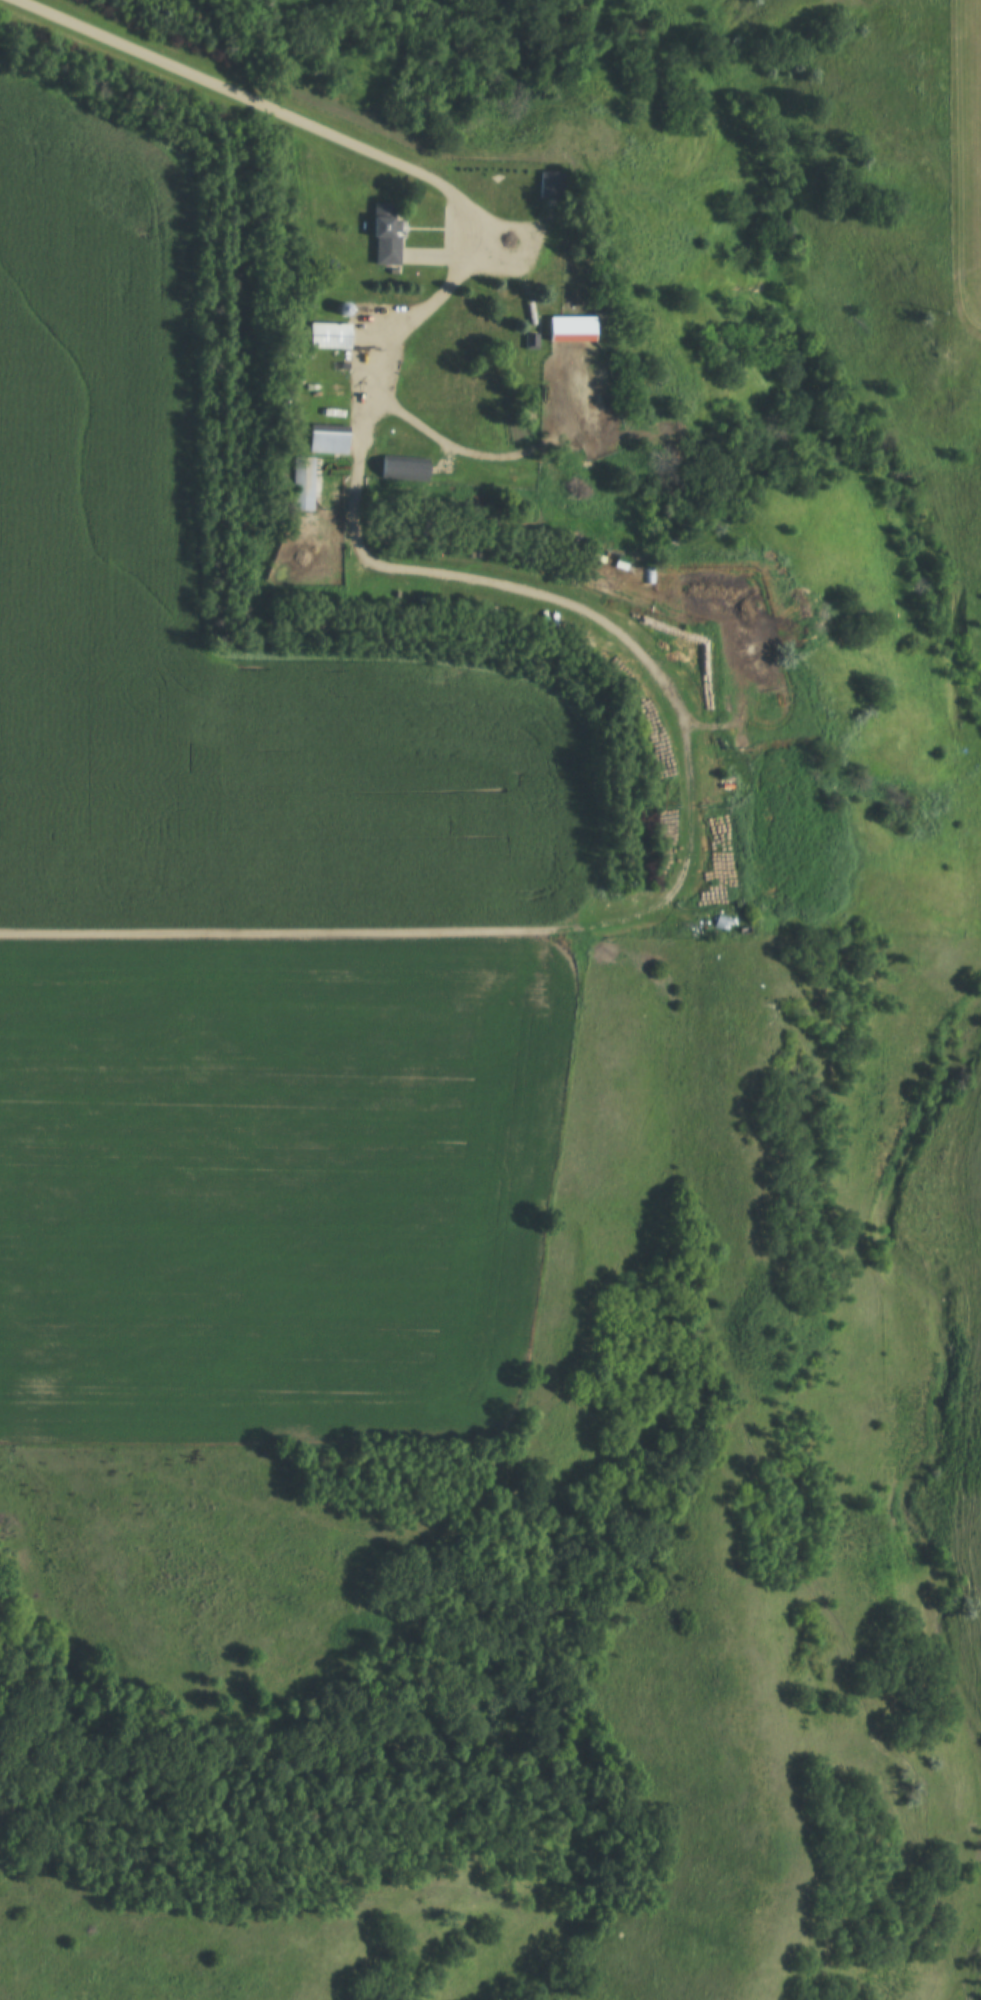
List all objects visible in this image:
building: (487, 169)
building: (551, 183)
building: (385, 233)
building: (345, 307)
silo: (345, 307)
road: (431, 307)
building: (330, 333)
building: (531, 340)
building: (389, 430)
building: (328, 437)
building: (404, 467)
building: (303, 485)
building: (728, 782)
silo: (728, 782)
road: (666, 906)

